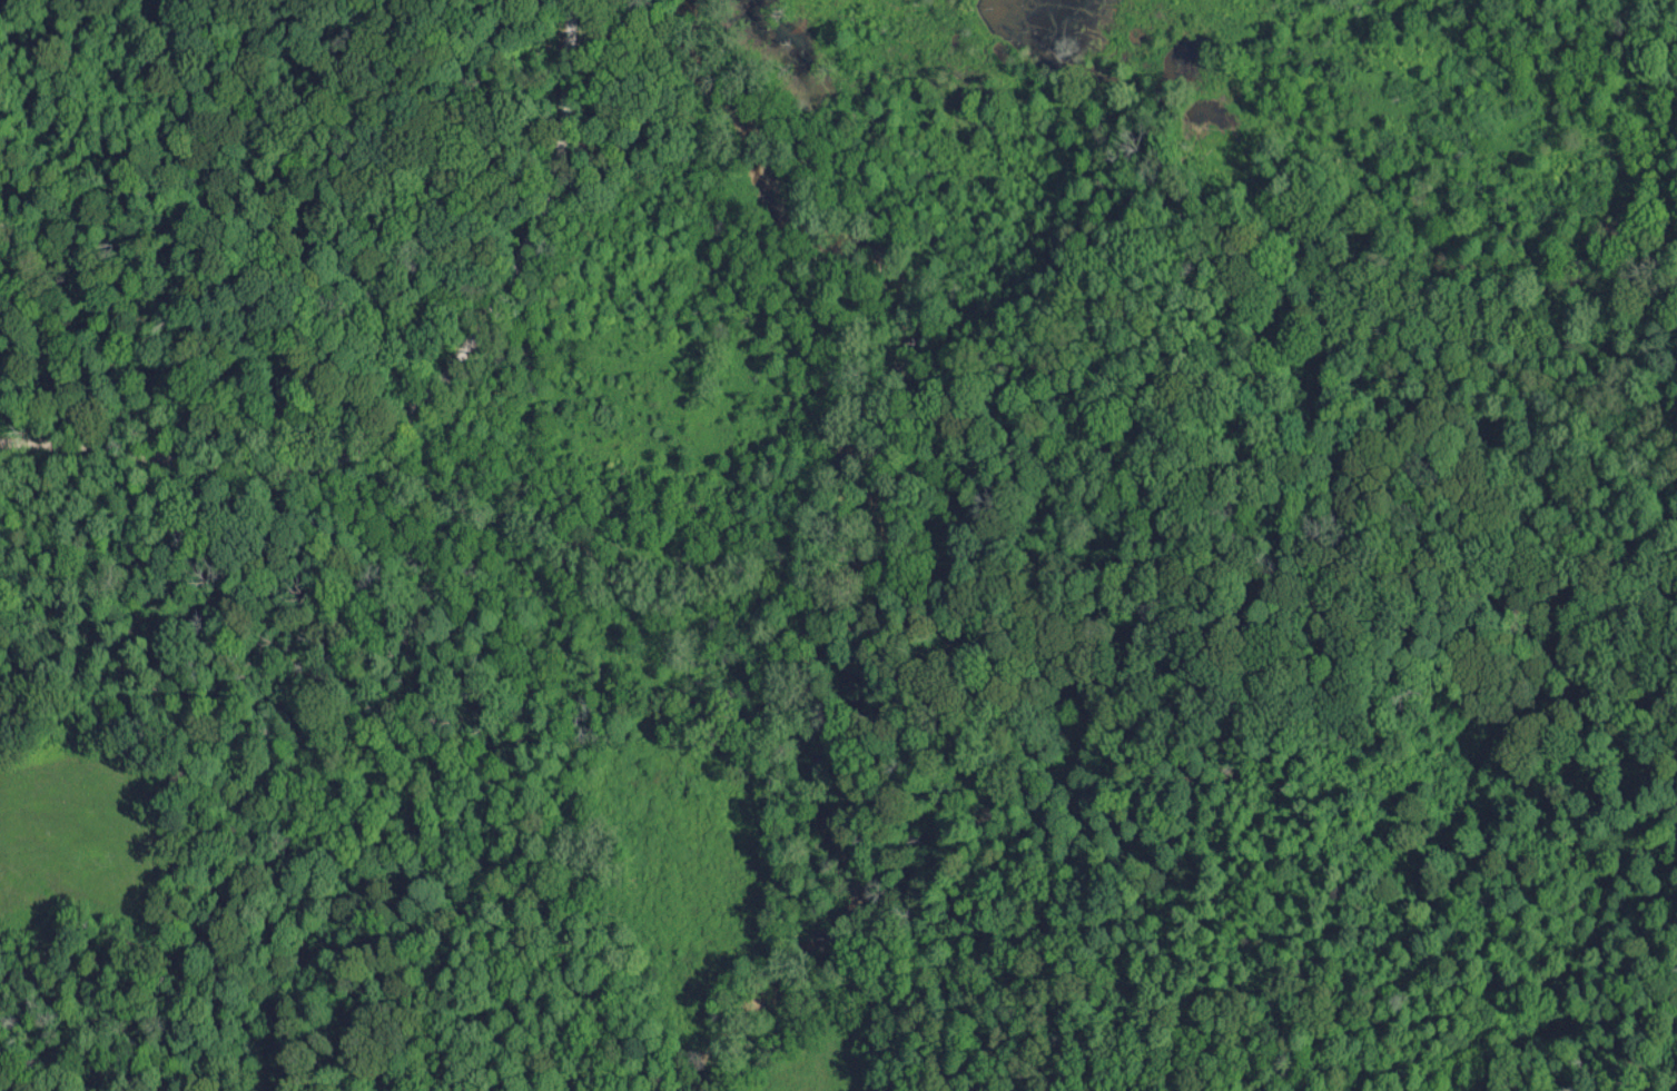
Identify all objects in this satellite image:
road: (434, 417)

